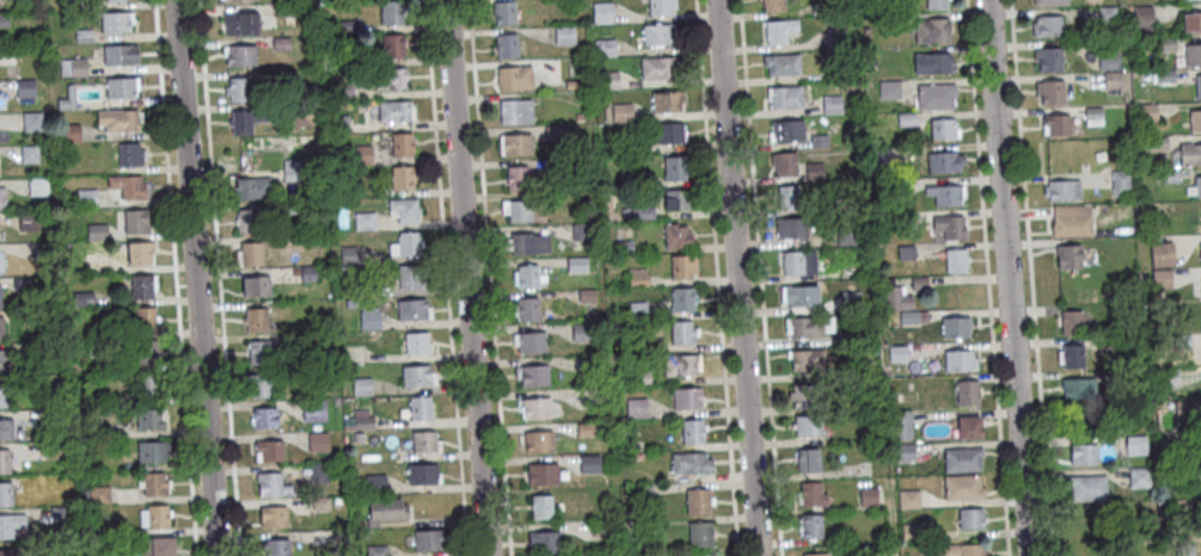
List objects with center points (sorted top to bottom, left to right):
building: (114, 0)
building: (234, 0)
building: (341, 0)
building: (869, 0)
building: (1048, 2)
building: (86, 5)
building: (773, 5)
building: (935, 5)
building: (660, 6)
building: (819, 8)
building: (502, 11)
building: (281, 12)
building: (601, 12)
building: (388, 13)
building: (1104, 14)
building: (2, 20)
building: (890, 20)
building: (1141, 20)
building: (1190, 21)
building: (114, 23)
building: (239, 23)
building: (1044, 25)
building: (348, 27)
building: (776, 30)
building: (930, 30)
building: (563, 35)
building: (655, 35)
building: (81, 37)
building: (835, 38)
building: (280, 44)
building: (504, 44)
building: (1163, 44)
building: (391, 45)
building: (602, 48)
building: (118, 54)
building: (1191, 54)
building: (239, 55)
building: (1047, 58)
building: (870, 61)
building: (1107, 61)
building: (930, 63)
building: (780, 64)
building: (654, 67)
building: (72, 68)
building: (838, 74)
building: (1163, 76)
building: (513, 78)
building: (391, 79)
building: (1110, 80)
building: (607, 81)
building: (569, 85)
building: (1197, 86)
building: (118, 88)
building: (237, 88)
building: (24, 89)
building: (888, 91)
building: (1048, 91)
building: (342, 92)
building: (785, 97)
building: (935, 97)
building: (66, 100)
building: (666, 100)
building: (829, 105)
building: (394, 111)
building: (514, 111)
building: (620, 113)
building: (1146, 113)
building: (300, 115)
building: (1091, 117)
building: (117, 119)
building: (245, 119)
building: (31, 121)
building: (905, 121)
building: (1194, 121)
building: (339, 124)
building: (1055, 124)
building: (940, 129)
building: (786, 130)
building: (553, 132)
building: (668, 132)
building: (69, 134)
building: (817, 141)
building: (400, 143)
building: (1156, 143)
building: (515, 144)
building: (627, 147)
building: (1190, 153)
building: (29, 154)
building: (128, 154)
building: (362, 155)
building: (881, 156)
building: (943, 161)
building: (783, 162)
building: (673, 167)
building: (290, 171)
building: (813, 172)
building: (1171, 175)
building: (400, 177)
building: (515, 177)
building: (627, 179)
building: (1120, 183)
building: (127, 186)
building: (1195, 186)
building: (37, 187)
building: (252, 189)
building: (889, 190)
building: (1060, 190)
building: (943, 194)
building: (786, 197)
building: (1, 198)
building: (86, 198)
building: (674, 199)
building: (289, 208)
building: (404, 209)
building: (515, 210)
building: (624, 214)
building: (641, 214)
building: (135, 221)
building: (249, 221)
building: (363, 221)
building: (1070, 221)
building: (31, 222)
building: (899, 222)
building: (1159, 222)
building: (948, 226)
building: (790, 228)
building: (96, 231)
building: (580, 233)
building: (675, 236)
building: (844, 236)
building: (292, 241)
building: (409, 242)
building: (529, 242)
building: (625, 246)
building: (1200, 248)
building: (42, 251)
building: (139, 252)
building: (903, 253)
building: (1162, 253)
building: (250, 254)
building: (348, 257)
building: (1066, 257)
building: (955, 260)
building: (798, 261)
building: (577, 262)
building: (684, 264)
building: (307, 274)
building: (410, 274)
building: (528, 274)
road: (173, 277)
road: (219, 277)
road: (446, 277)
building: (638, 277)
road: (717, 277)
road: (195, 278)
road: (466, 278)
road: (489, 278)
road: (735, 278)
road: (760, 278)
road: (987, 278)
road: (1006, 278)
road: (1030, 278)
building: (1162, 278)
building: (920, 282)
building: (22, 285)
building: (141, 286)
building: (255, 286)
building: (360, 290)
building: (801, 294)
building: (0, 295)
building: (587, 295)
building: (681, 297)
building: (896, 297)
building: (851, 299)
building: (81, 301)
building: (413, 308)
building: (528, 308)
building: (638, 309)
building: (909, 315)
building: (143, 317)
building: (369, 320)
building: (1072, 320)
building: (256, 321)
building: (805, 325)
building: (956, 325)
building: (1, 327)
building: (684, 330)
building: (583, 332)
building: (417, 340)
building: (532, 340)
building: (1183, 341)
building: (647, 345)
building: (38, 347)
building: (146, 347)
building: (259, 352)
building: (899, 353)
building: (1073, 353)
building: (807, 358)
building: (2, 359)
building: (961, 359)
building: (105, 363)
building: (680, 363)
building: (418, 373)
building: (534, 373)
building: (1110, 375)
building: (641, 377)
building: (1170, 378)
building: (149, 382)
building: (262, 383)
building: (363, 385)
building: (1079, 385)
building: (968, 390)
building: (4, 393)
building: (803, 394)
building: (687, 397)
building: (891, 397)
building: (421, 406)
building: (537, 406)
building: (637, 407)
building: (315, 409)
building: (1188, 412)
building: (148, 415)
building: (266, 415)
building: (364, 419)
building: (808, 422)
building: (902, 422)
building: (969, 422)
building: (6, 427)
building: (586, 427)
building: (92, 428)
building: (693, 428)
building: (539, 438)
building: (319, 440)
building: (421, 440)
building: (1190, 443)
building: (1136, 445)
building: (271, 449)
building: (54, 450)
building: (153, 450)
building: (906, 451)
building: (1084, 451)
building: (809, 457)
building: (962, 457)
building: (5, 459)
building: (691, 461)
building: (589, 462)
building: (423, 471)
building: (543, 471)
building: (320, 472)
building: (1191, 474)
building: (1140, 478)
building: (155, 482)
building: (376, 482)
building: (272, 483)
building: (963, 486)
building: (1087, 486)
building: (643, 489)
building: (813, 492)
building: (6, 493)
building: (84, 494)
building: (99, 494)
building: (869, 495)
building: (909, 496)
building: (338, 499)
building: (355, 499)
building: (698, 499)
building: (321, 501)
building: (541, 504)
building: (386, 508)
building: (61, 514)
building: (158, 514)
building: (274, 515)
building: (972, 515)
building: (97, 518)
building: (11, 523)
building: (811, 524)
building: (600, 526)
building: (911, 530)
building: (98, 531)
building: (1090, 531)
building: (700, 532)
building: (429, 537)
building: (544, 538)
building: (325, 539)
building: (157, 545)
building: (278, 546)
building: (378, 549)
building: (957, 549)
building: (1185, 549)
building: (10, 551)
building: (815, 552)
building: (877, 554)
building: (549, 555)
building: (606, 555)
building: (704, 555)
building: (833, 555)

